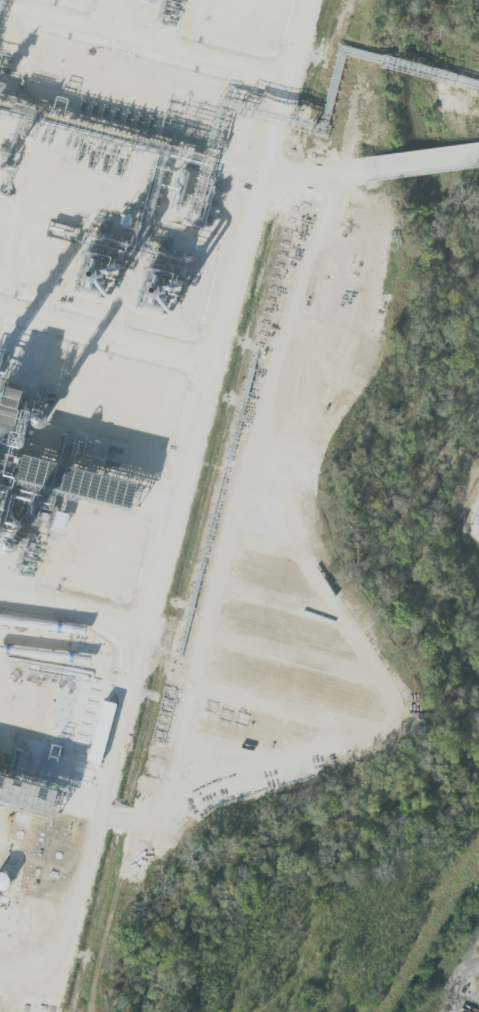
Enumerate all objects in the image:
road: (393, 173)
building: (45, 466)

